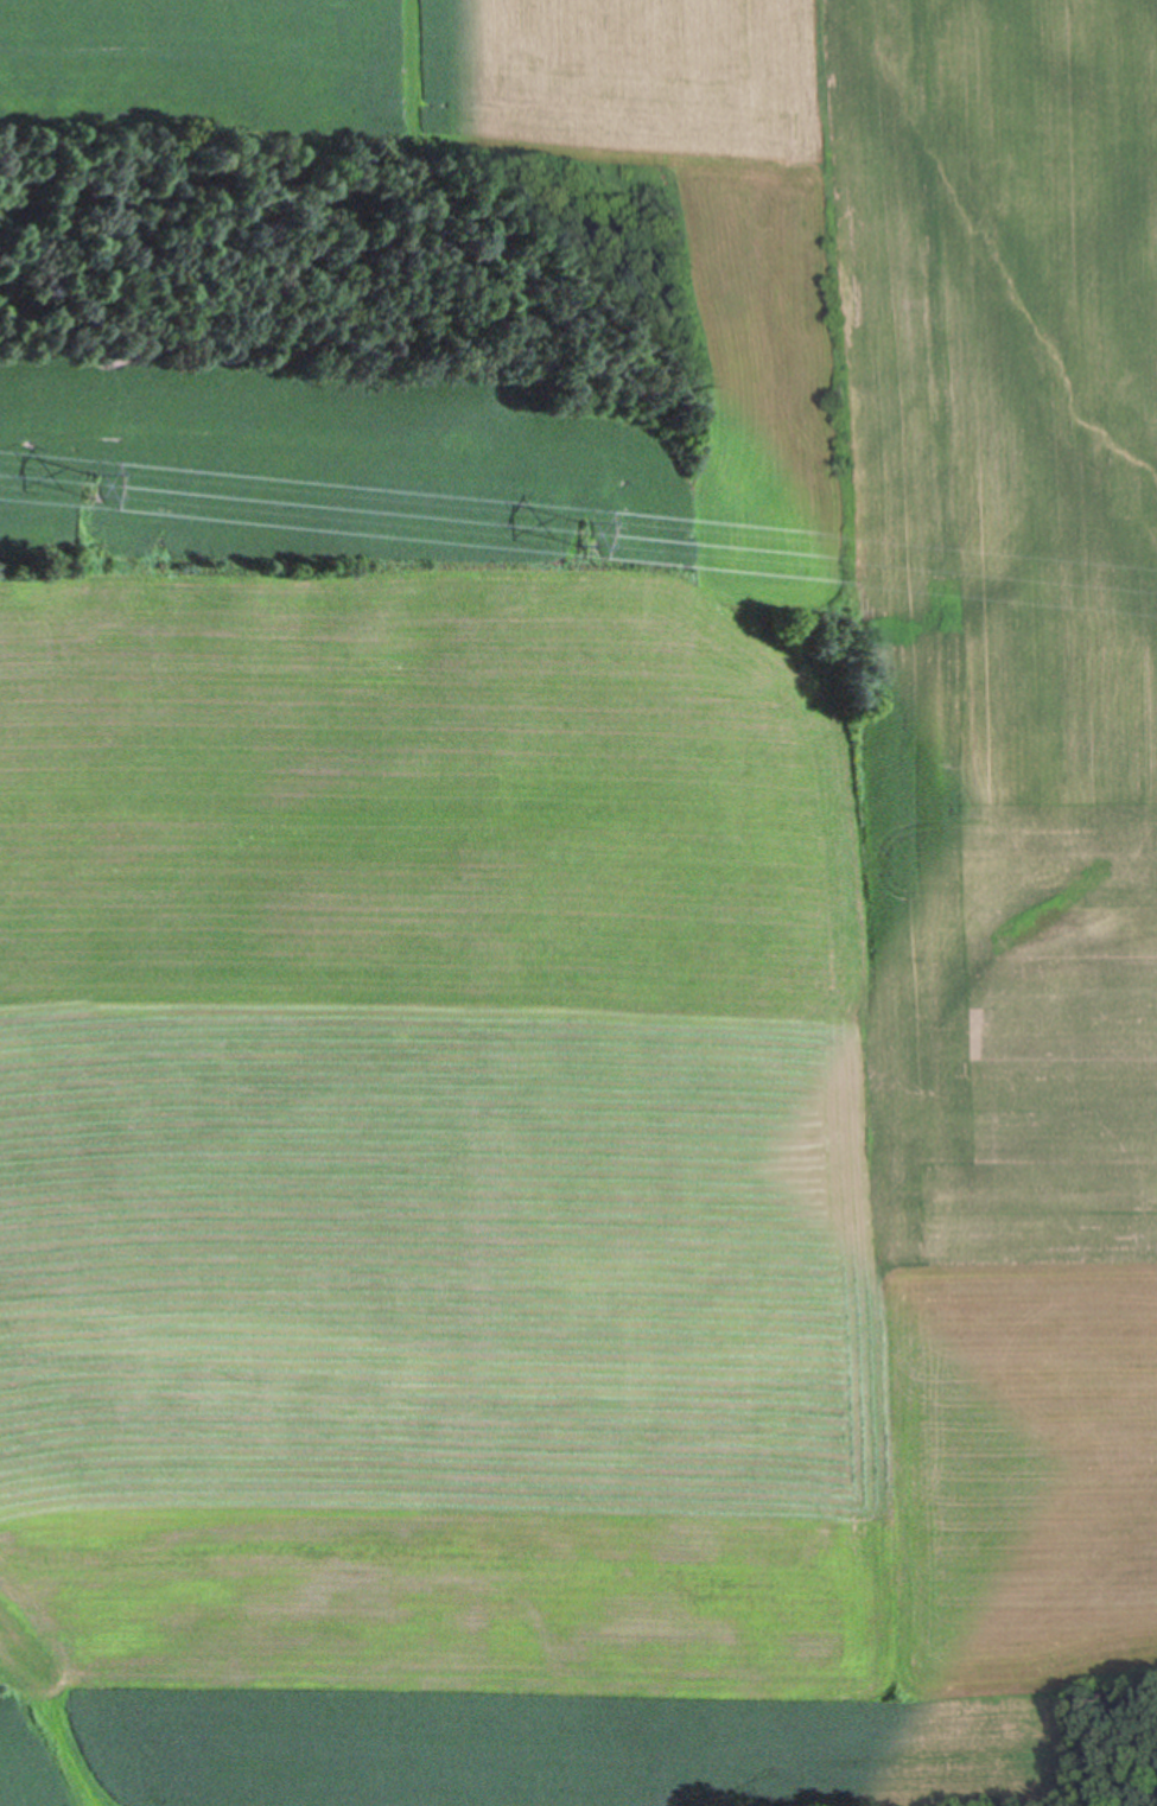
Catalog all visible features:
power tower: (96, 488)
power tower: (579, 538)

